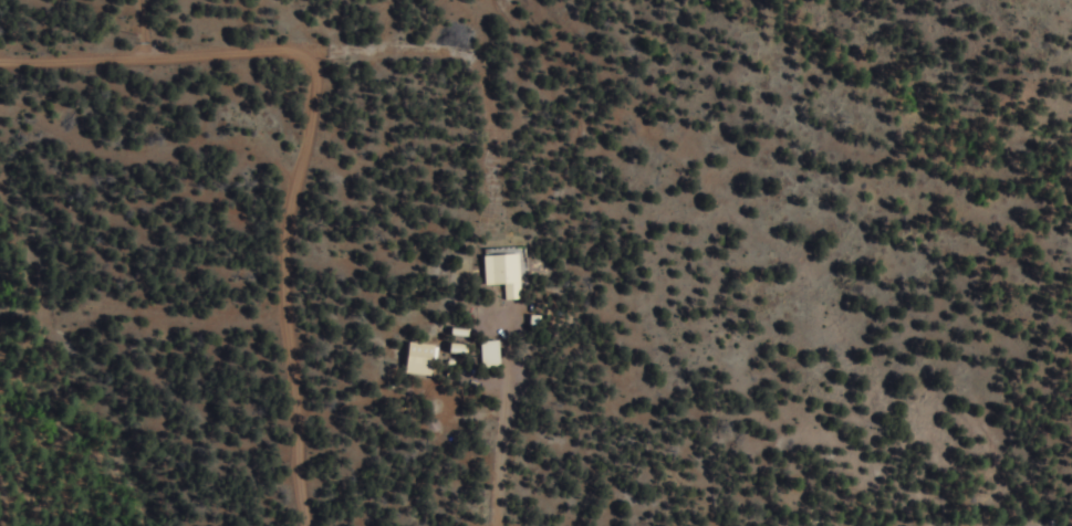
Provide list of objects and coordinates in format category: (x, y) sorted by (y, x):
road: (385, 23)
road: (140, 28)
road: (154, 55)
road: (477, 63)
building: (510, 274)
road: (285, 286)
building: (465, 349)
building: (497, 354)
road: (503, 417)

